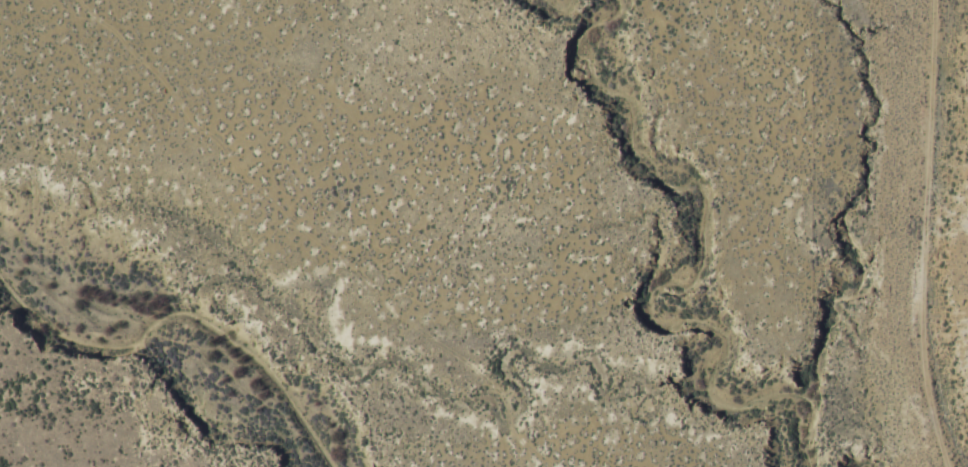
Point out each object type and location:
road: (921, 234)

